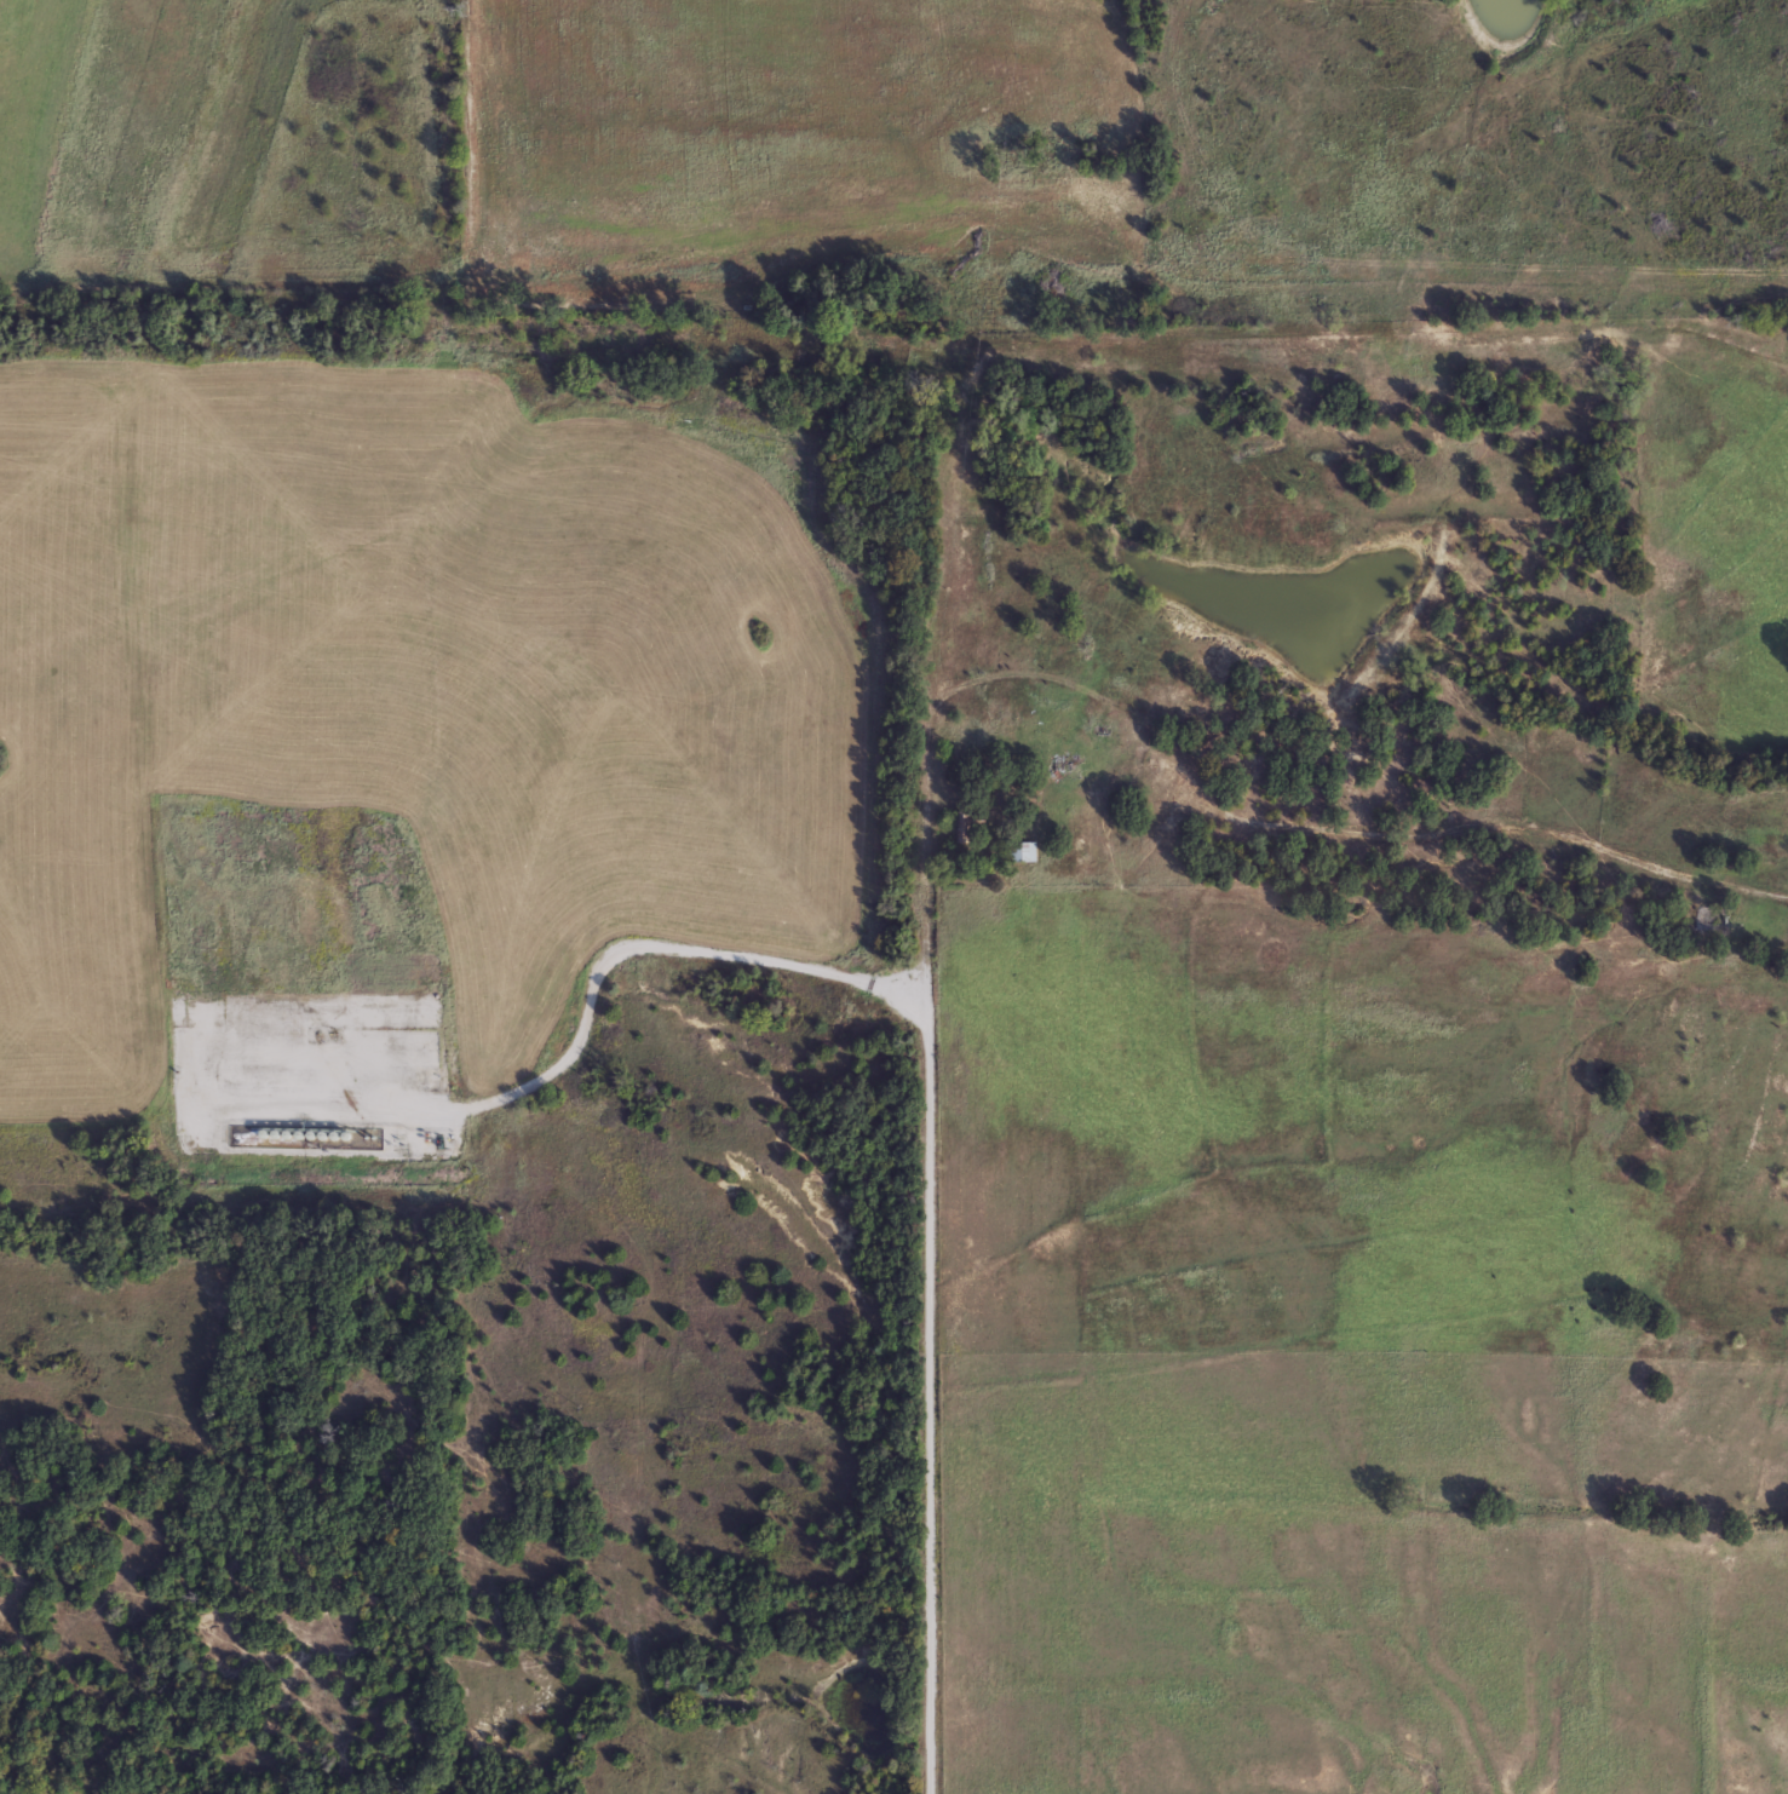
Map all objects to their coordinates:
road: (1140, 701)
building: (1019, 850)
building: (1709, 915)
road: (973, 1241)

